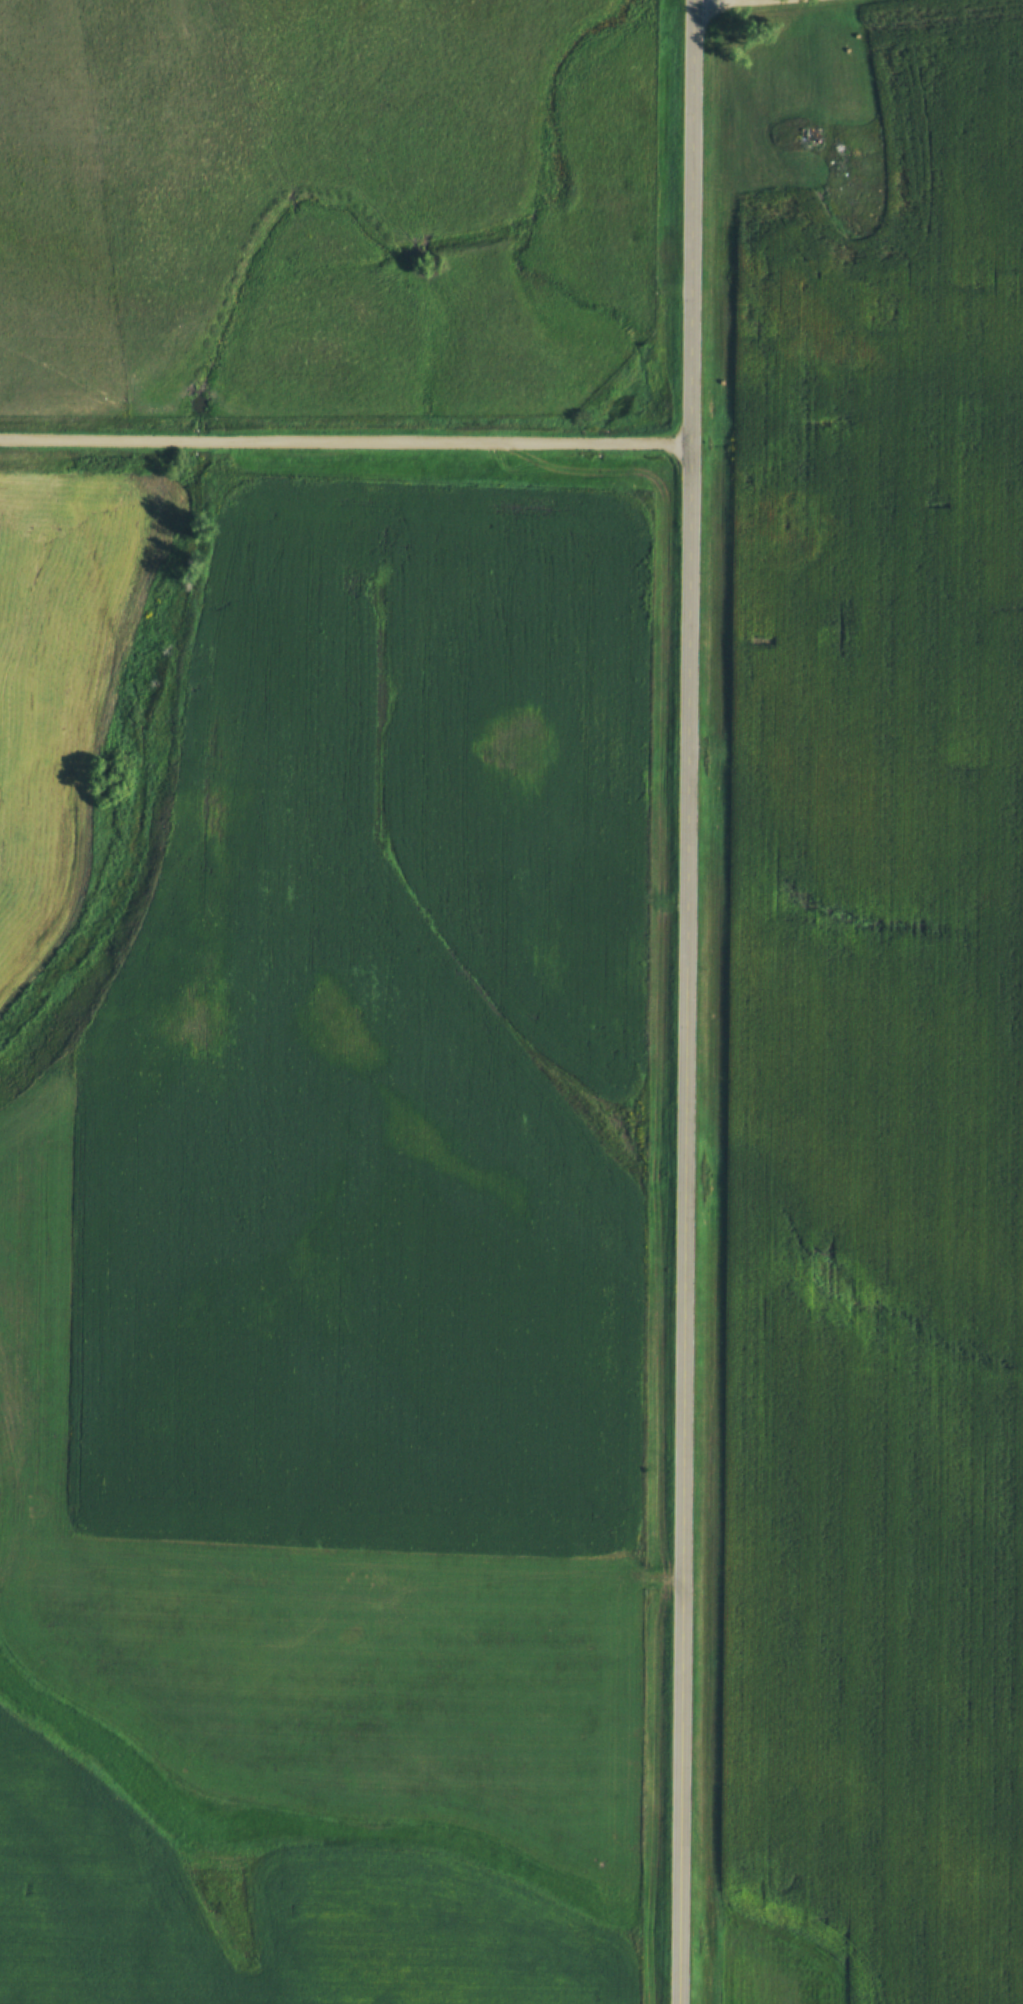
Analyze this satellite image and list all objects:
road: (709, 0)
road: (349, 439)
road: (694, 1002)

